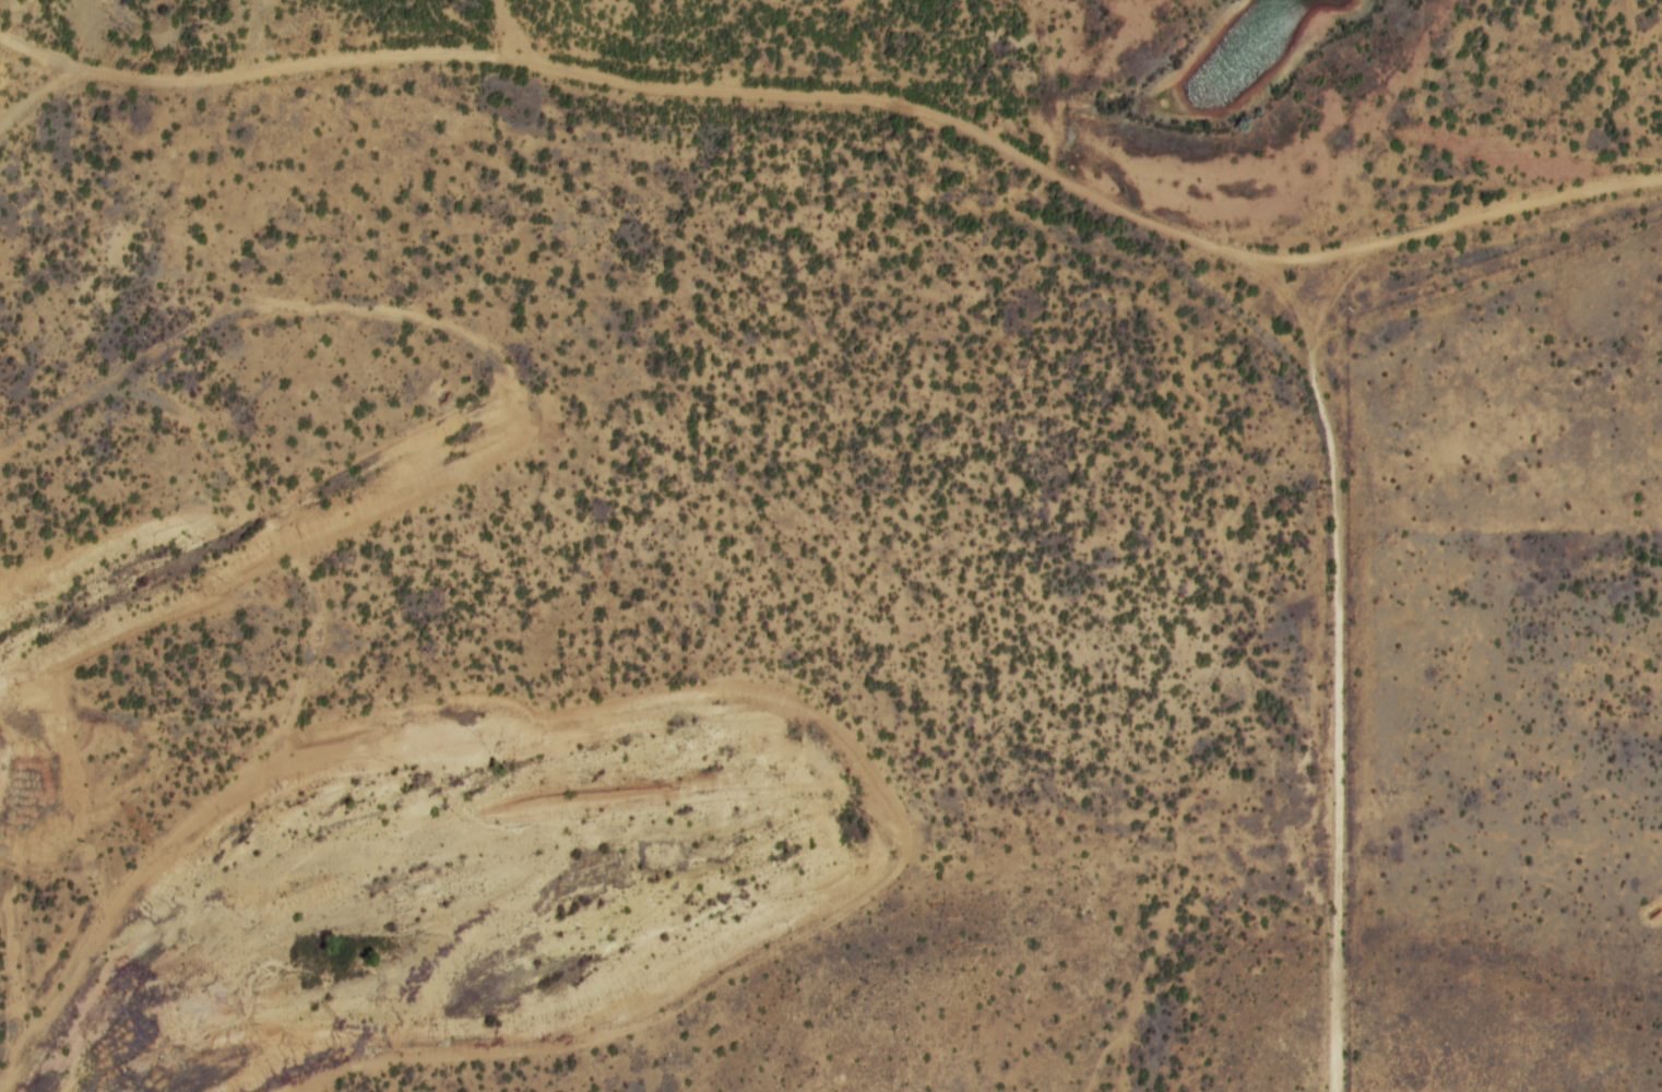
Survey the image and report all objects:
road: (1472, 242)
road: (1341, 735)

